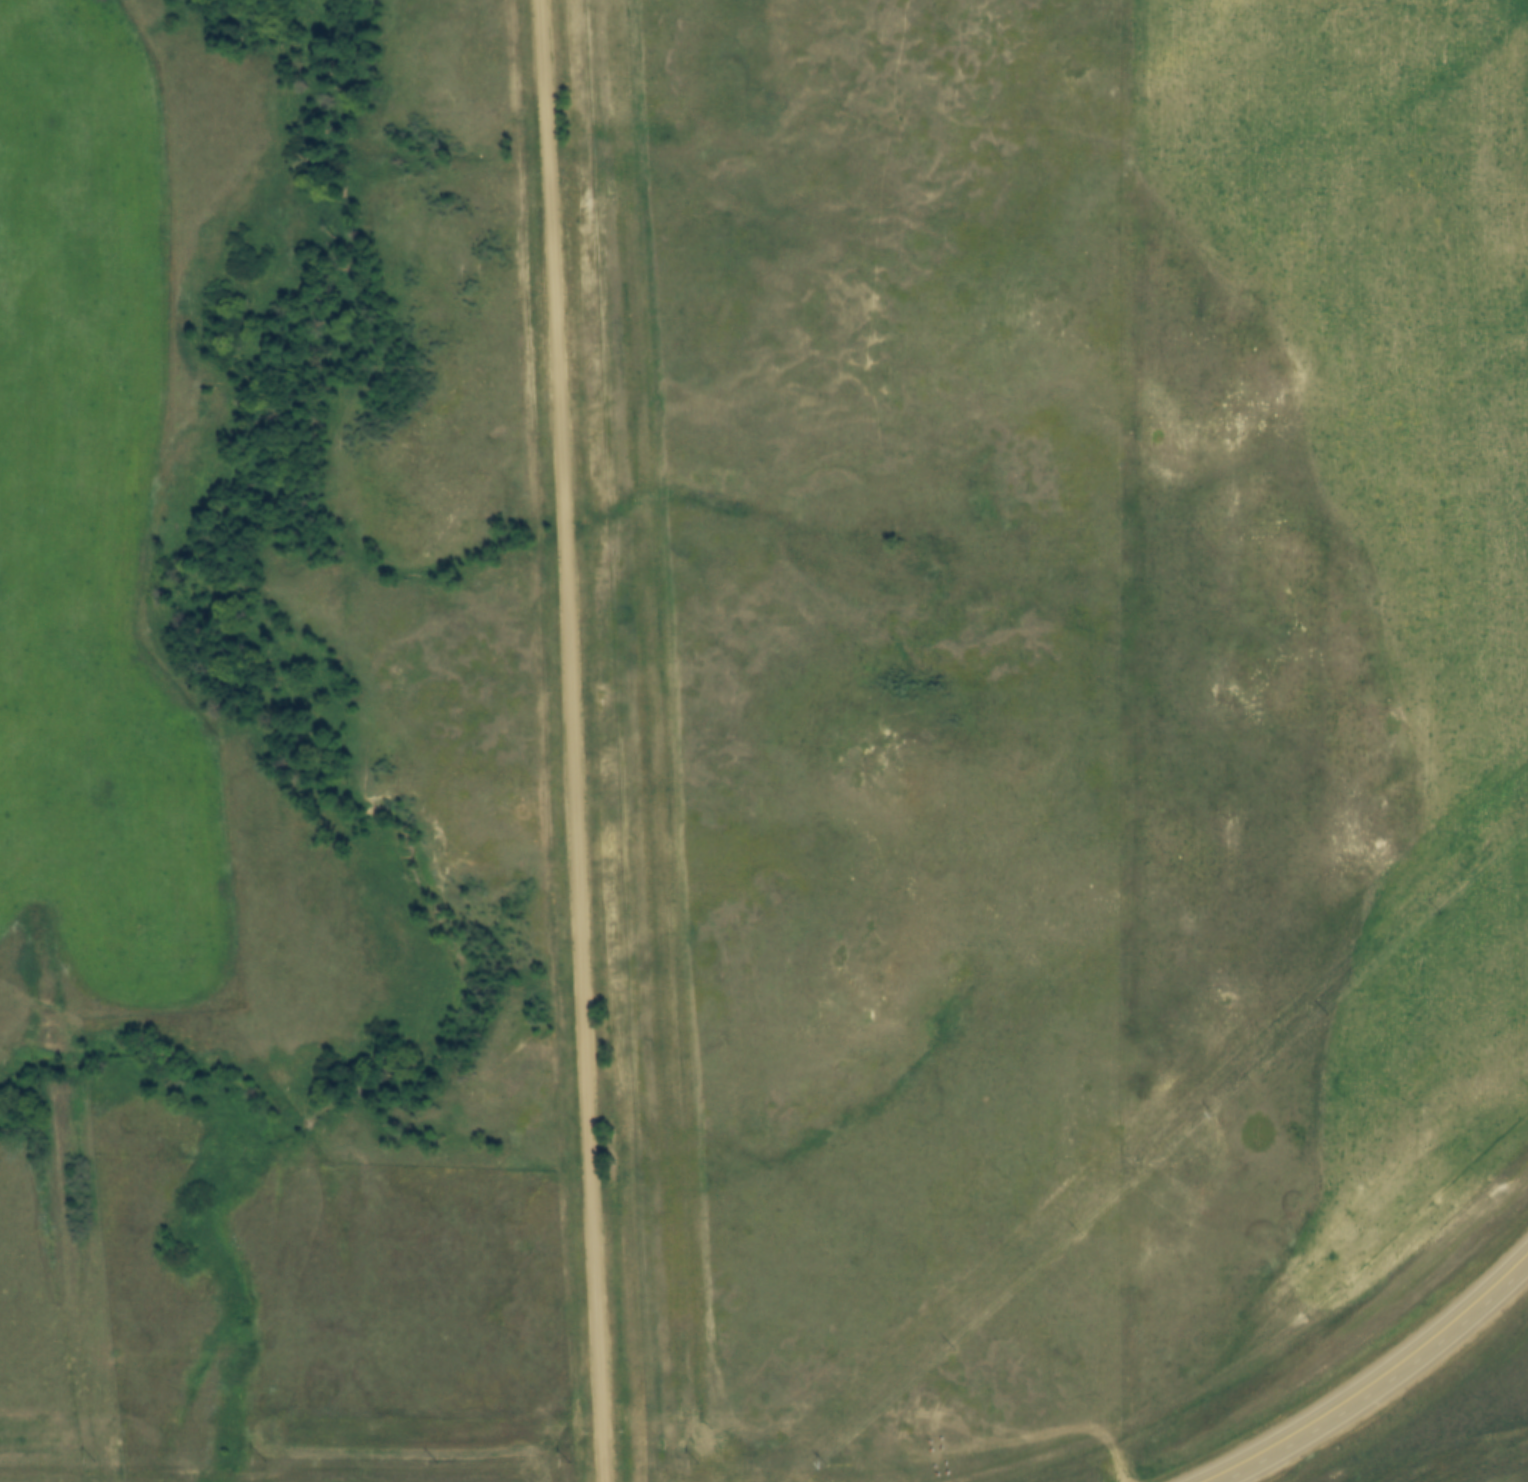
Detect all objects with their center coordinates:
road: (573, 741)
road: (1377, 1390)

